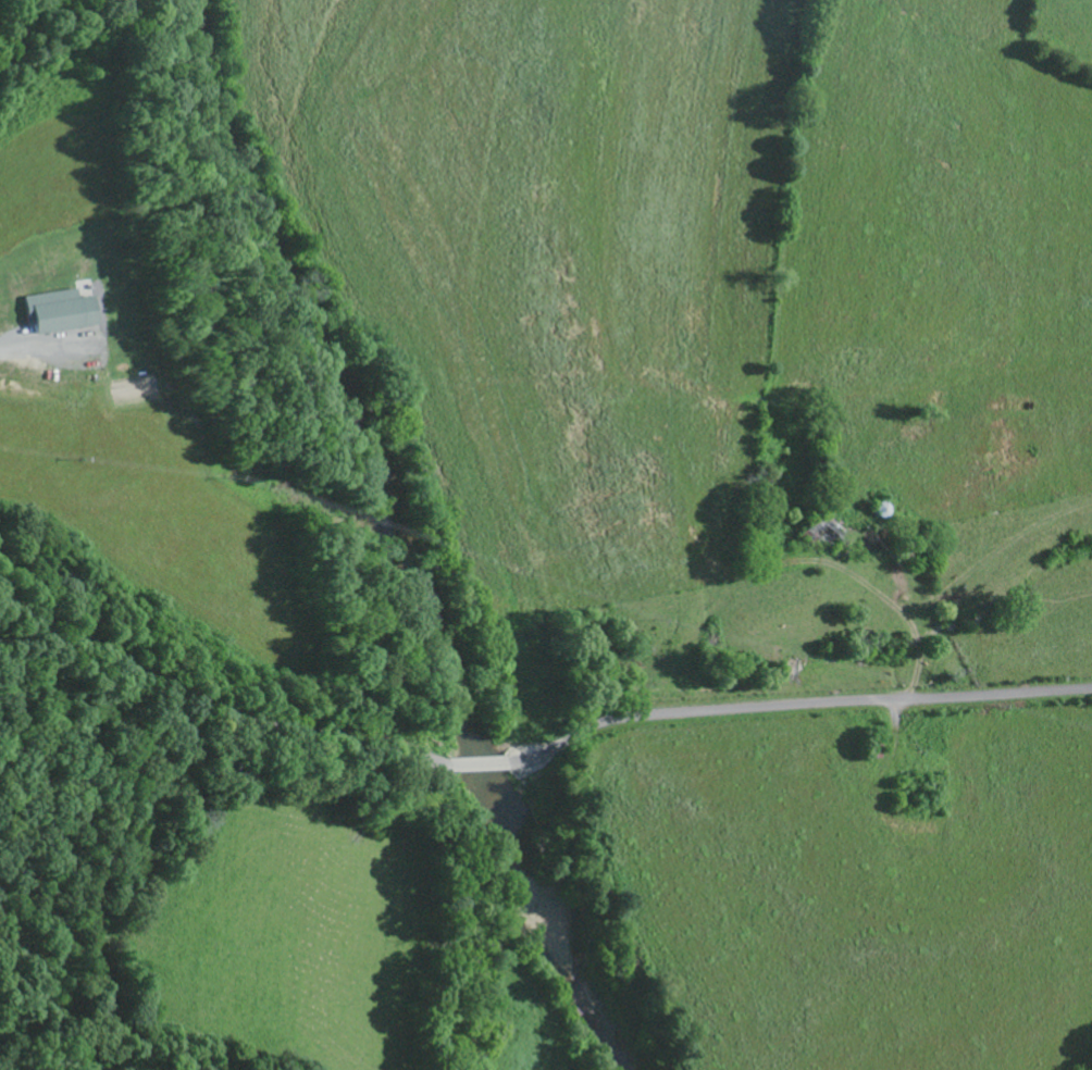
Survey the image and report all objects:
building: (62, 313)
road: (533, 768)

